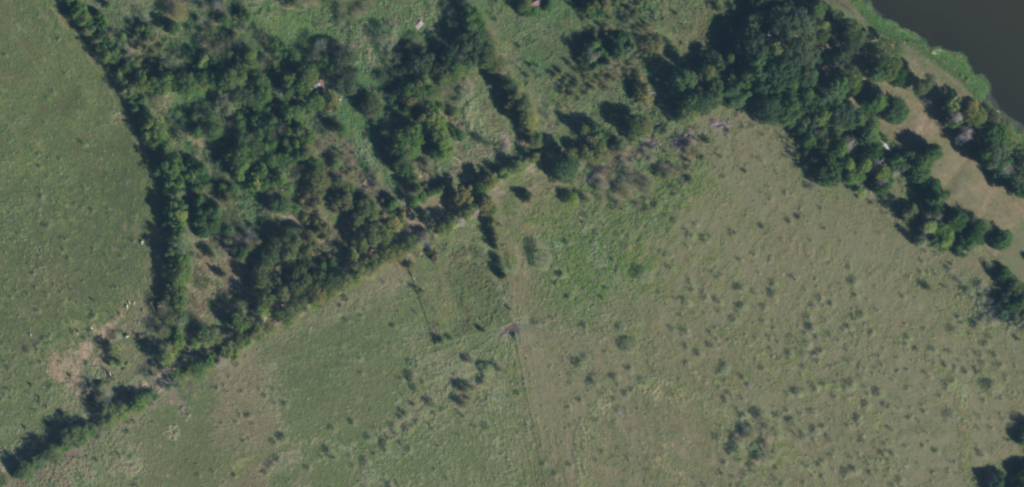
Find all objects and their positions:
road: (230, 322)

